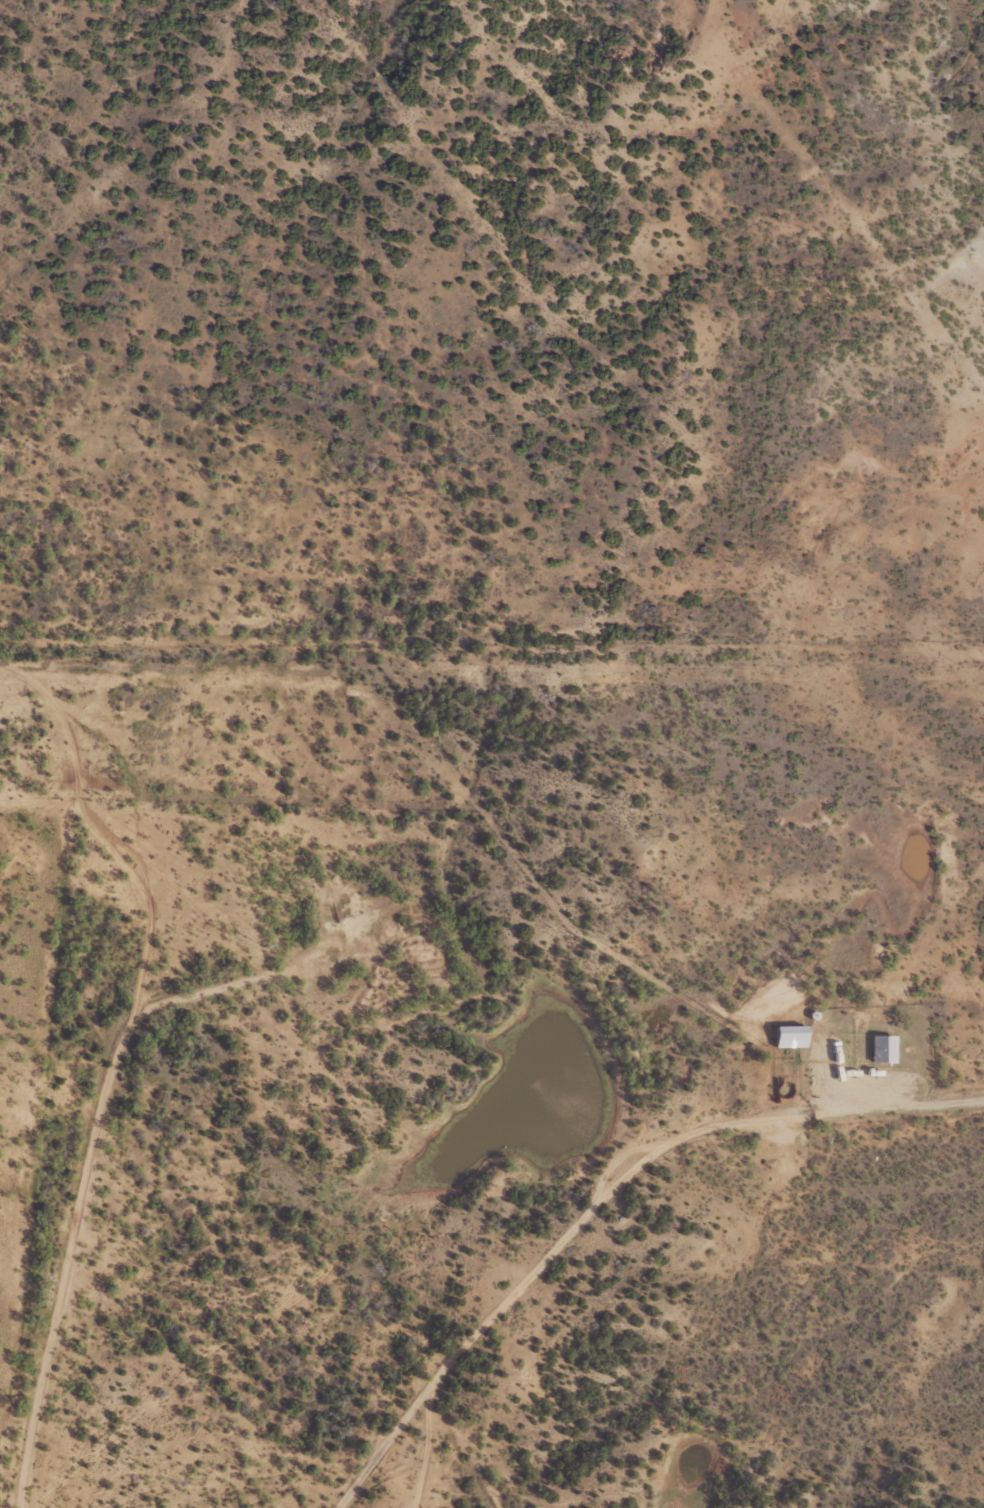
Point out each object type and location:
building: (796, 1034)
building: (888, 1047)
road: (101, 1083)
road: (613, 1209)

